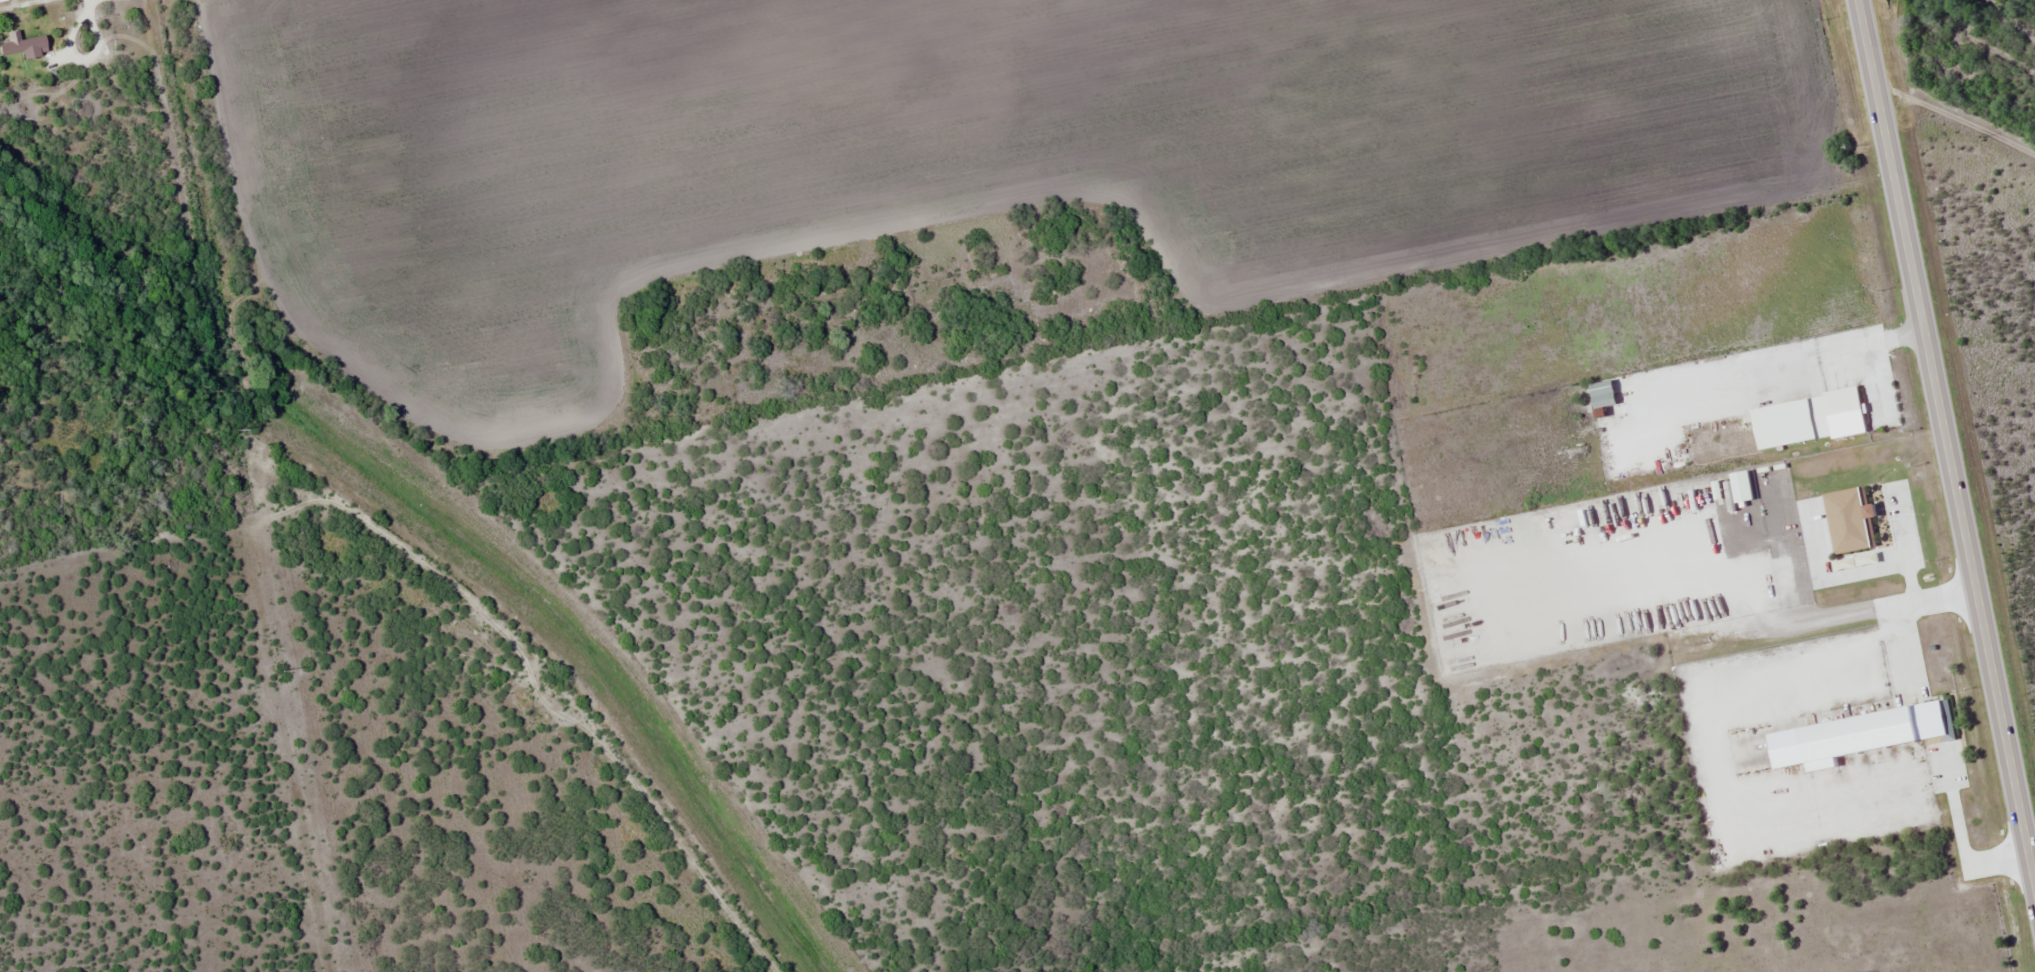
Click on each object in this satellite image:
building: (25, 46)
power tower: (233, 428)
road: (1946, 443)
power tower: (282, 670)

